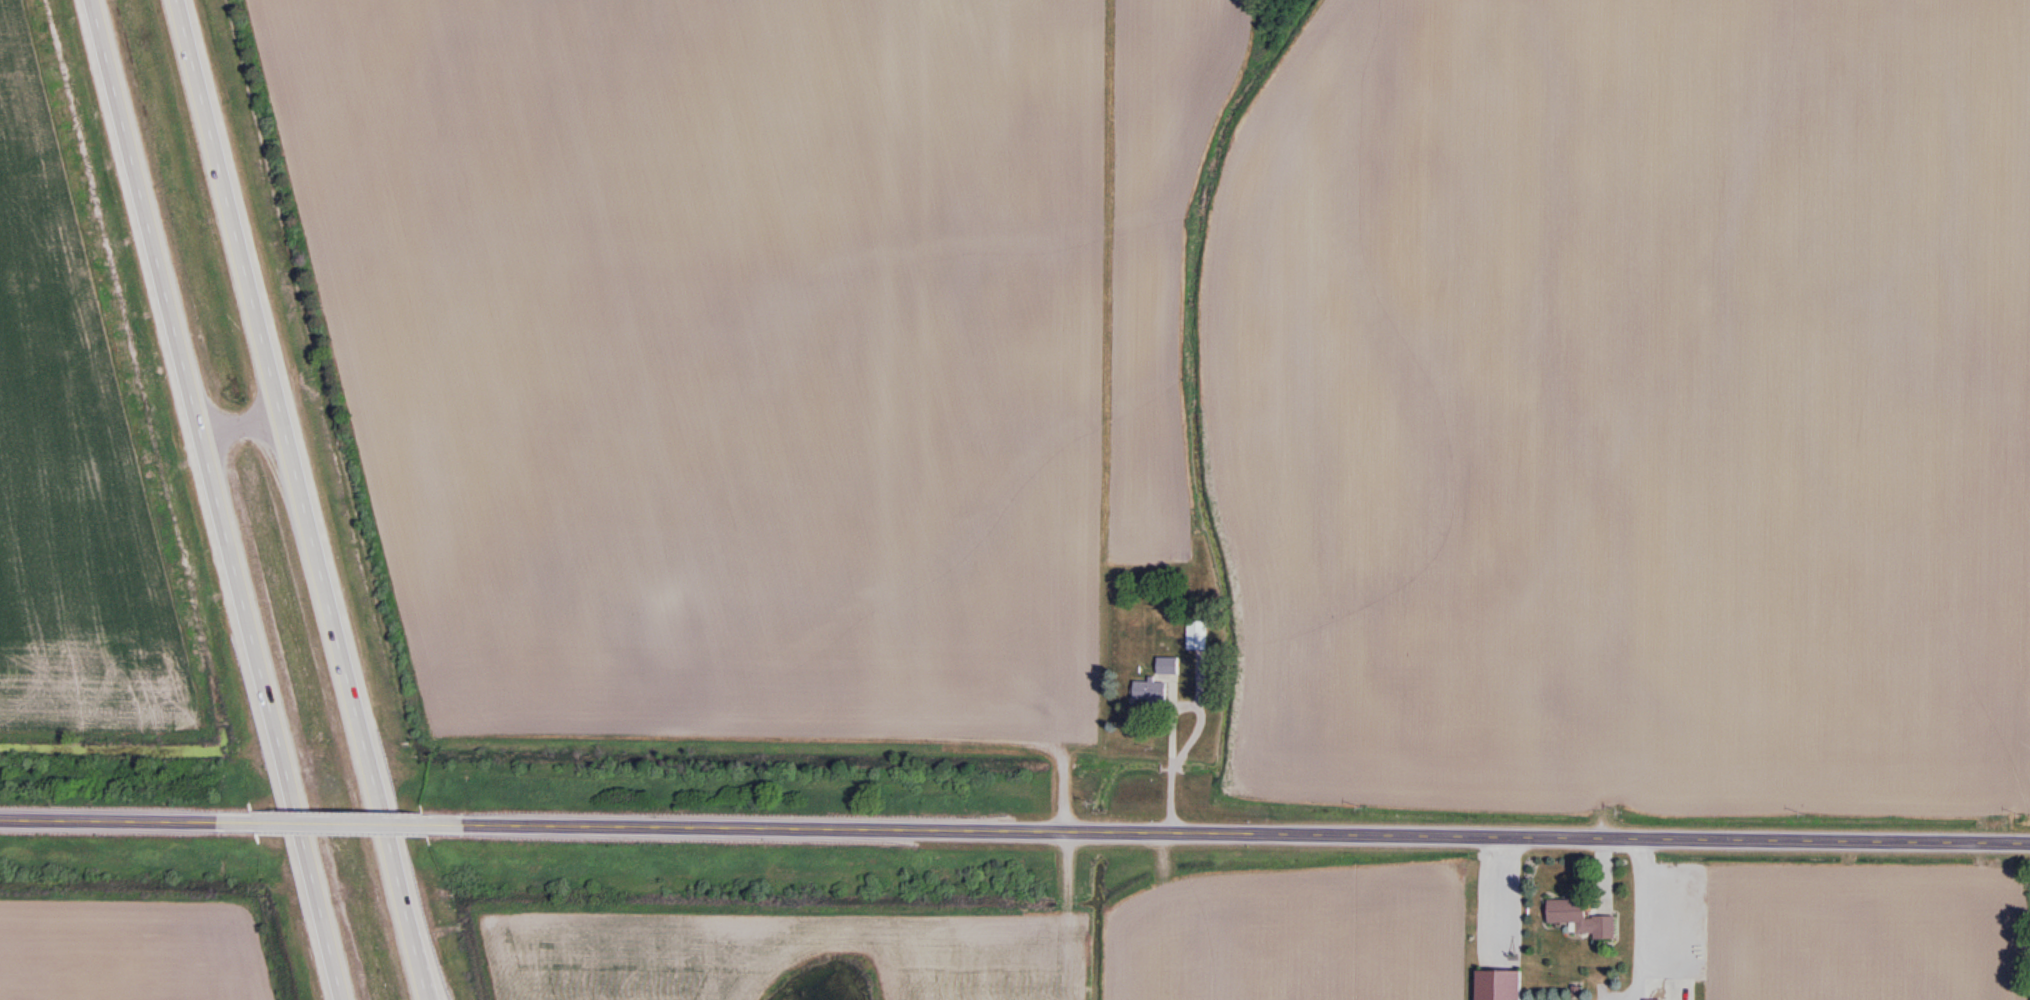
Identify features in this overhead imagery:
road: (240, 420)
road: (307, 499)
road: (213, 500)
building: (1197, 634)
building: (1167, 665)
building: (1149, 691)
road: (1169, 727)
road: (131, 818)
road: (357, 821)
road: (1240, 837)
road: (1073, 914)
building: (1580, 919)
building: (1498, 985)

